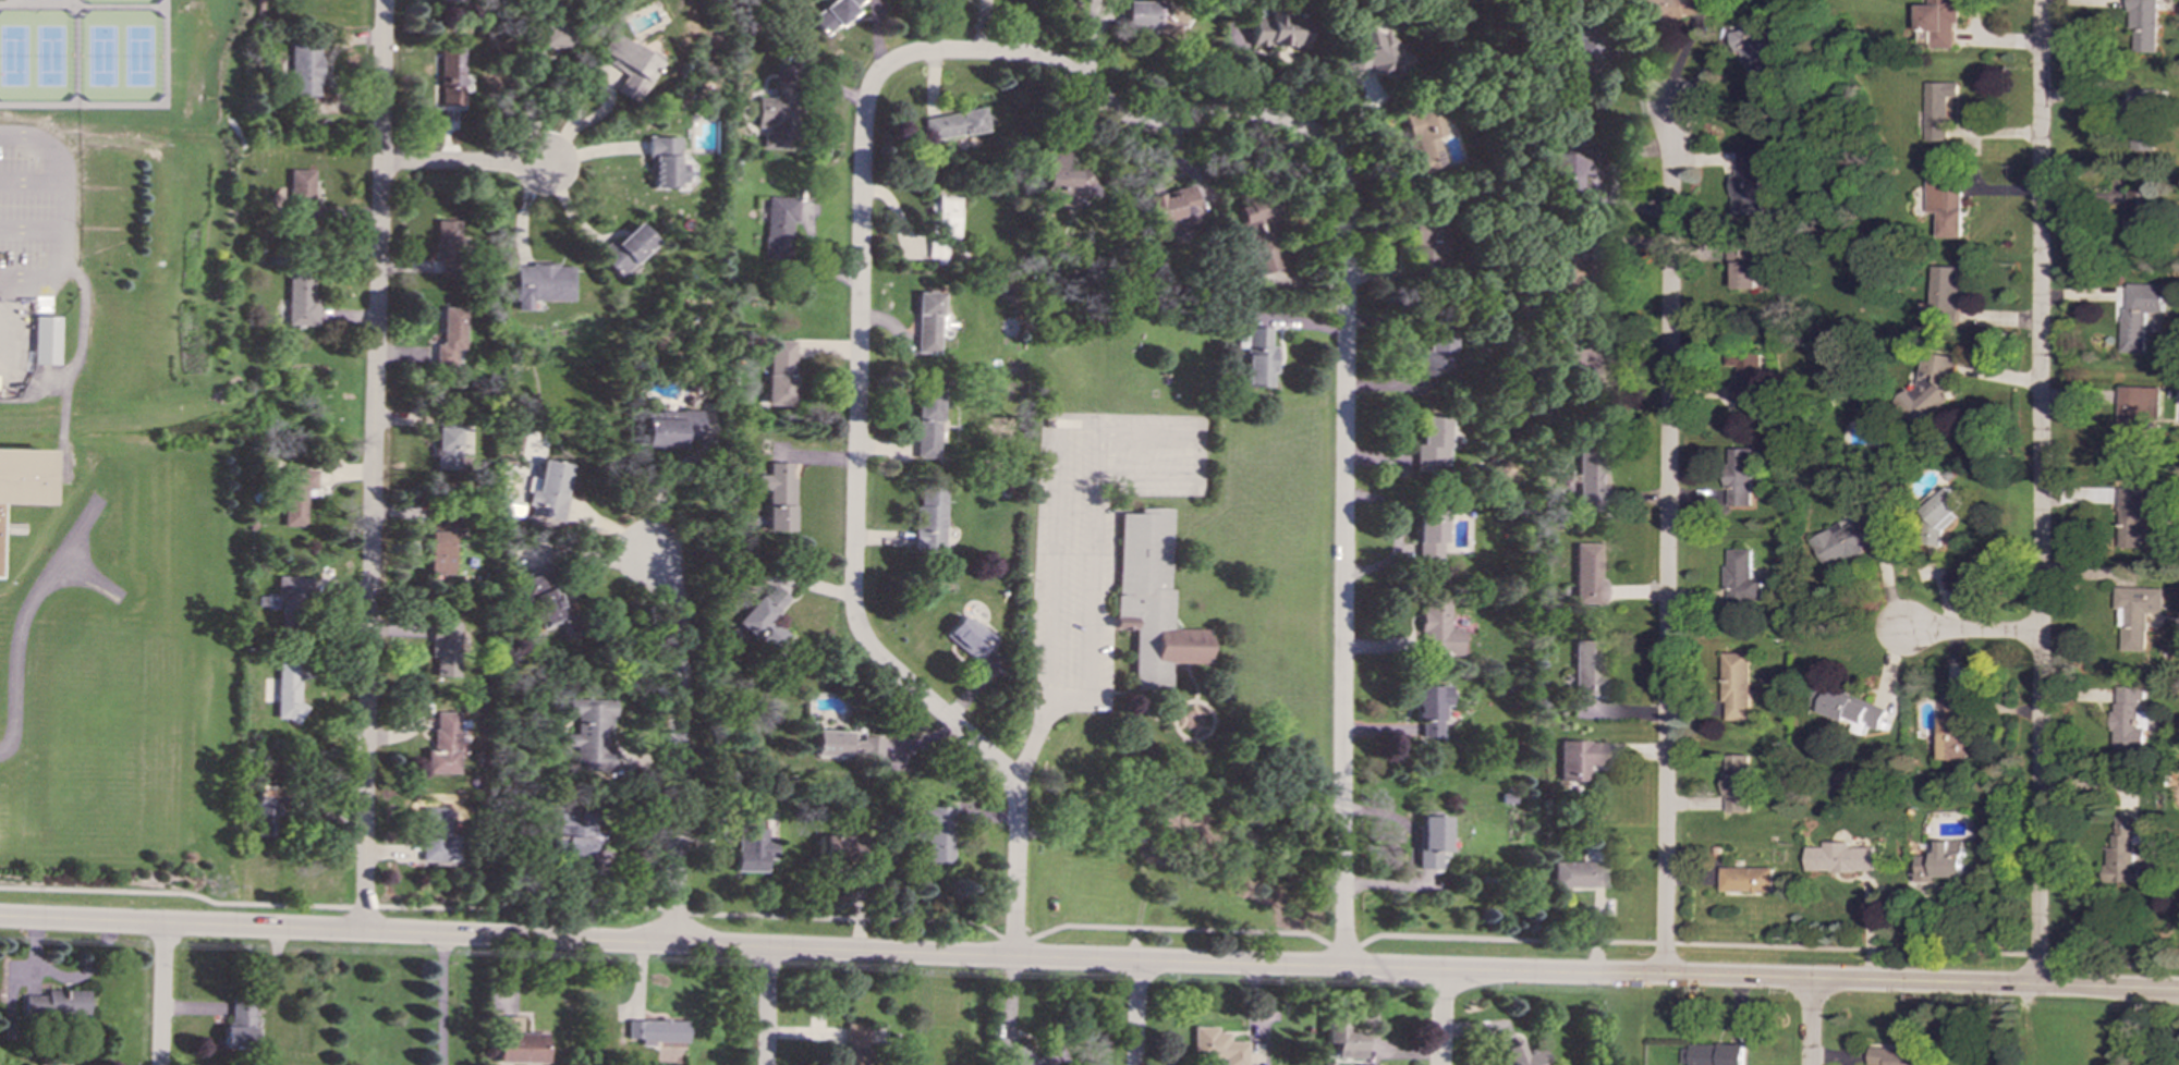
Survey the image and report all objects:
building: (457, 0)
road: (40, 3)
road: (121, 4)
building: (1672, 9)
building: (835, 13)
building: (1153, 15)
building: (1938, 23)
building: (2144, 25)
building: (1278, 29)
building: (548, 35)
building: (1583, 52)
park: (50, 53)
road: (77, 53)
park: (138, 53)
park: (14, 54)
park: (102, 54)
building: (1751, 54)
building: (1375, 56)
building: (630, 64)
building: (305, 69)
building: (451, 75)
road: (607, 83)
road: (133, 102)
building: (1938, 109)
building: (777, 115)
building: (2142, 120)
building: (955, 123)
building: (1424, 137)
road: (556, 146)
building: (1577, 158)
building: (665, 161)
road: (463, 162)
building: (1067, 179)
road: (28, 181)
building: (1744, 185)
building: (301, 188)
building: (1946, 206)
road: (58, 210)
building: (1172, 211)
building: (2139, 221)
building: (779, 225)
building: (940, 225)
road: (29, 229)
parking lot: (32, 241)
building: (1424, 242)
building: (447, 245)
building: (626, 248)
building: (1741, 266)
building: (541, 284)
building: (1943, 294)
building: (301, 298)
building: (2138, 314)
building: (927, 322)
building: (450, 335)
building: (48, 339)
building: (1438, 350)
building: (1258, 356)
road: (75, 360)
building: (1585, 360)
building: (780, 372)
building: (1744, 376)
road: (56, 382)
road: (859, 389)
building: (1927, 389)
building: (2144, 404)
building: (665, 414)
building: (926, 424)
building: (673, 429)
building: (447, 441)
building: (1432, 444)
road: (1196, 454)
road: (373, 465)
road: (1346, 473)
building: (1737, 477)
building: (24, 485)
building: (548, 489)
road: (659, 489)
road: (2037, 492)
building: (295, 494)
building: (778, 494)
building: (1939, 511)
building: (2132, 516)
building: (929, 517)
road: (1055, 532)
building: (1428, 532)
building: (1843, 540)
road: (1665, 541)
building: (441, 542)
road: (588, 559)
road: (1095, 563)
road: (90, 573)
building: (1587, 574)
building: (1740, 580)
building: (1151, 599)
building: (547, 601)
building: (765, 614)
building: (2133, 614)
road: (26, 616)
building: (1437, 626)
road: (1968, 632)
building: (969, 636)
building: (445, 647)
building: (1587, 668)
building: (1736, 687)
building: (288, 691)
building: (1429, 708)
building: (1846, 710)
road: (1038, 719)
building: (2127, 719)
building: (591, 732)
building: (1948, 732)
building: (443, 744)
building: (843, 745)
road: (679, 746)
building: (1579, 758)
building: (1736, 783)
building: (265, 810)
building: (575, 833)
building: (938, 833)
building: (438, 835)
building: (1431, 840)
building: (835, 845)
building: (753, 846)
building: (2121, 854)
building: (1837, 858)
building: (1939, 861)
building: (1578, 874)
building: (1745, 880)
road: (1087, 925)
road: (1088, 962)
road: (162, 996)
road: (445, 1001)
building: (56, 1003)
road: (767, 1007)
road: (1135, 1014)
road: (1440, 1018)
road: (1807, 1024)
building: (238, 1026)
building: (656, 1030)
building: (1340, 1033)
building: (516, 1042)
building: (853, 1045)
building: (1216, 1045)
building: (1522, 1054)
building: (1039, 1055)
building: (1713, 1055)
building: (1899, 1057)

